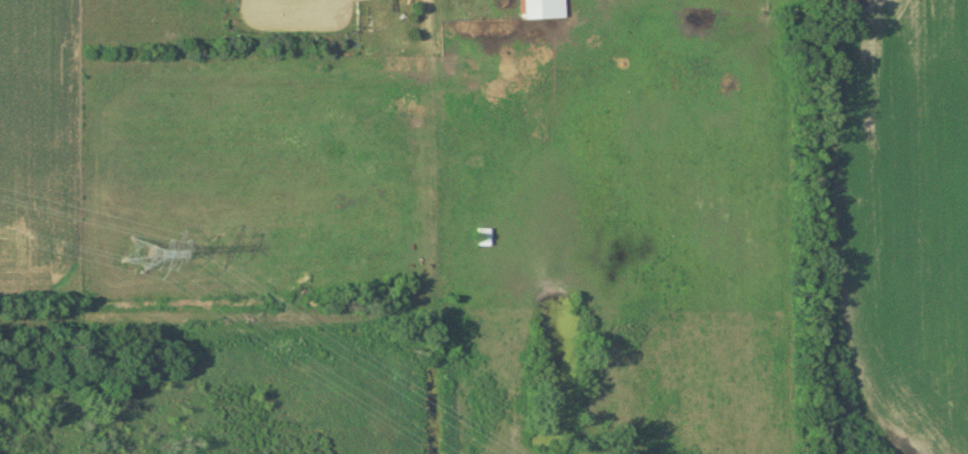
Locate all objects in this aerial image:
building: (542, 9)
power tower: (141, 256)
road: (360, 316)

